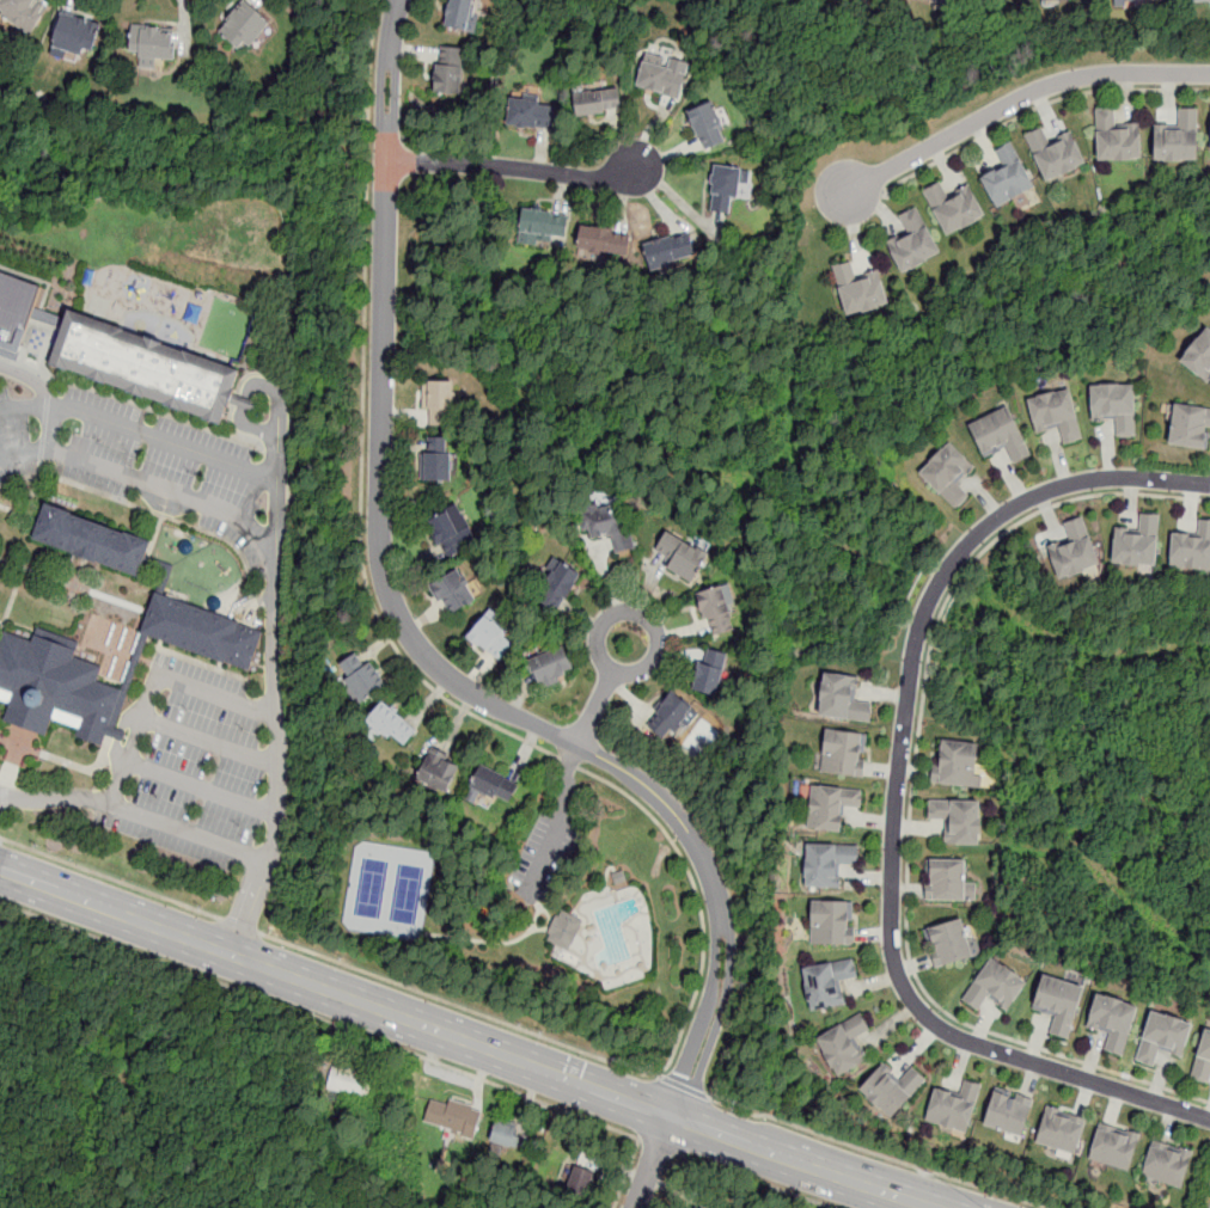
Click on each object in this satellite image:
building: (1051, 0)
building: (1191, 0)
building: (942, 1)
building: (1123, 1)
building: (25, 14)
building: (465, 16)
building: (247, 30)
building: (78, 38)
building: (153, 47)
building: (452, 70)
building: (668, 78)
road: (1022, 97)
building: (599, 103)
road: (1037, 105)
building: (534, 115)
building: (711, 127)
building: (1177, 136)
building: (1116, 137)
building: (1055, 153)
road: (514, 168)
building: (1007, 176)
building: (729, 189)
building: (953, 207)
building: (546, 225)
building: (605, 240)
building: (912, 240)
building: (672, 251)
building: (858, 289)
building: (16, 313)
building: (1198, 355)
building: (151, 369)
road: (32, 381)
road: (267, 386)
building: (444, 403)
building: (1114, 406)
parking lot: (375, 409)
building: (1055, 413)
building: (1190, 425)
road: (362, 427)
road: (53, 429)
road: (136, 433)
building: (1000, 435)
building: (442, 462)
building: (948, 473)
road: (139, 483)
road: (135, 504)
building: (613, 528)
road: (322, 534)
building: (454, 536)
building: (93, 541)
building: (1137, 542)
building: (1072, 548)
building: (1191, 548)
building: (686, 557)
building: (165, 583)
building: (562, 589)
building: (457, 595)
building: (721, 613)
building: (203, 634)
building: (495, 639)
road: (659, 648)
road: (139, 656)
building: (136, 664)
building: (555, 669)
road: (445, 674)
building: (715, 674)
building: (365, 680)
building: (57, 692)
road: (216, 699)
building: (842, 699)
road: (595, 709)
road: (277, 717)
building: (676, 719)
building: (395, 728)
road: (23, 732)
road: (4, 738)
road: (8, 741)
road: (129, 741)
road: (208, 743)
building: (841, 754)
road: (569, 761)
road: (69, 762)
building: (955, 762)
road: (8, 769)
building: (441, 774)
road: (197, 786)
building: (497, 786)
road: (4, 797)
road: (51, 797)
road: (911, 797)
road: (0, 798)
road: (896, 798)
building: (830, 807)
road: (2, 810)
building: (958, 818)
road: (563, 827)
road: (183, 836)
parking lot: (546, 856)
building: (827, 864)
road: (110, 877)
building: (621, 879)
building: (947, 879)
park: (372, 890)
park: (408, 896)
road: (699, 906)
road: (549, 916)
building: (830, 922)
road: (239, 924)
building: (567, 933)
building: (948, 942)
road: (493, 944)
building: (826, 982)
building: (995, 986)
building: (1058, 1002)
road: (459, 1006)
road: (319, 1019)
building: (1112, 1020)
building: (1162, 1037)
road: (470, 1043)
building: (844, 1045)
building: (1203, 1060)
park: (153, 1083)
building: (348, 1083)
road: (686, 1089)
building: (892, 1090)
building: (954, 1106)
building: (1008, 1114)
building: (450, 1117)
building: (1061, 1130)
building: (502, 1135)
road: (659, 1146)
building: (1113, 1146)
road: (876, 1154)
building: (1167, 1163)
road: (625, 1173)
building: (581, 1181)
road: (758, 1181)
building: (691, 1207)
building: (698, 1207)

